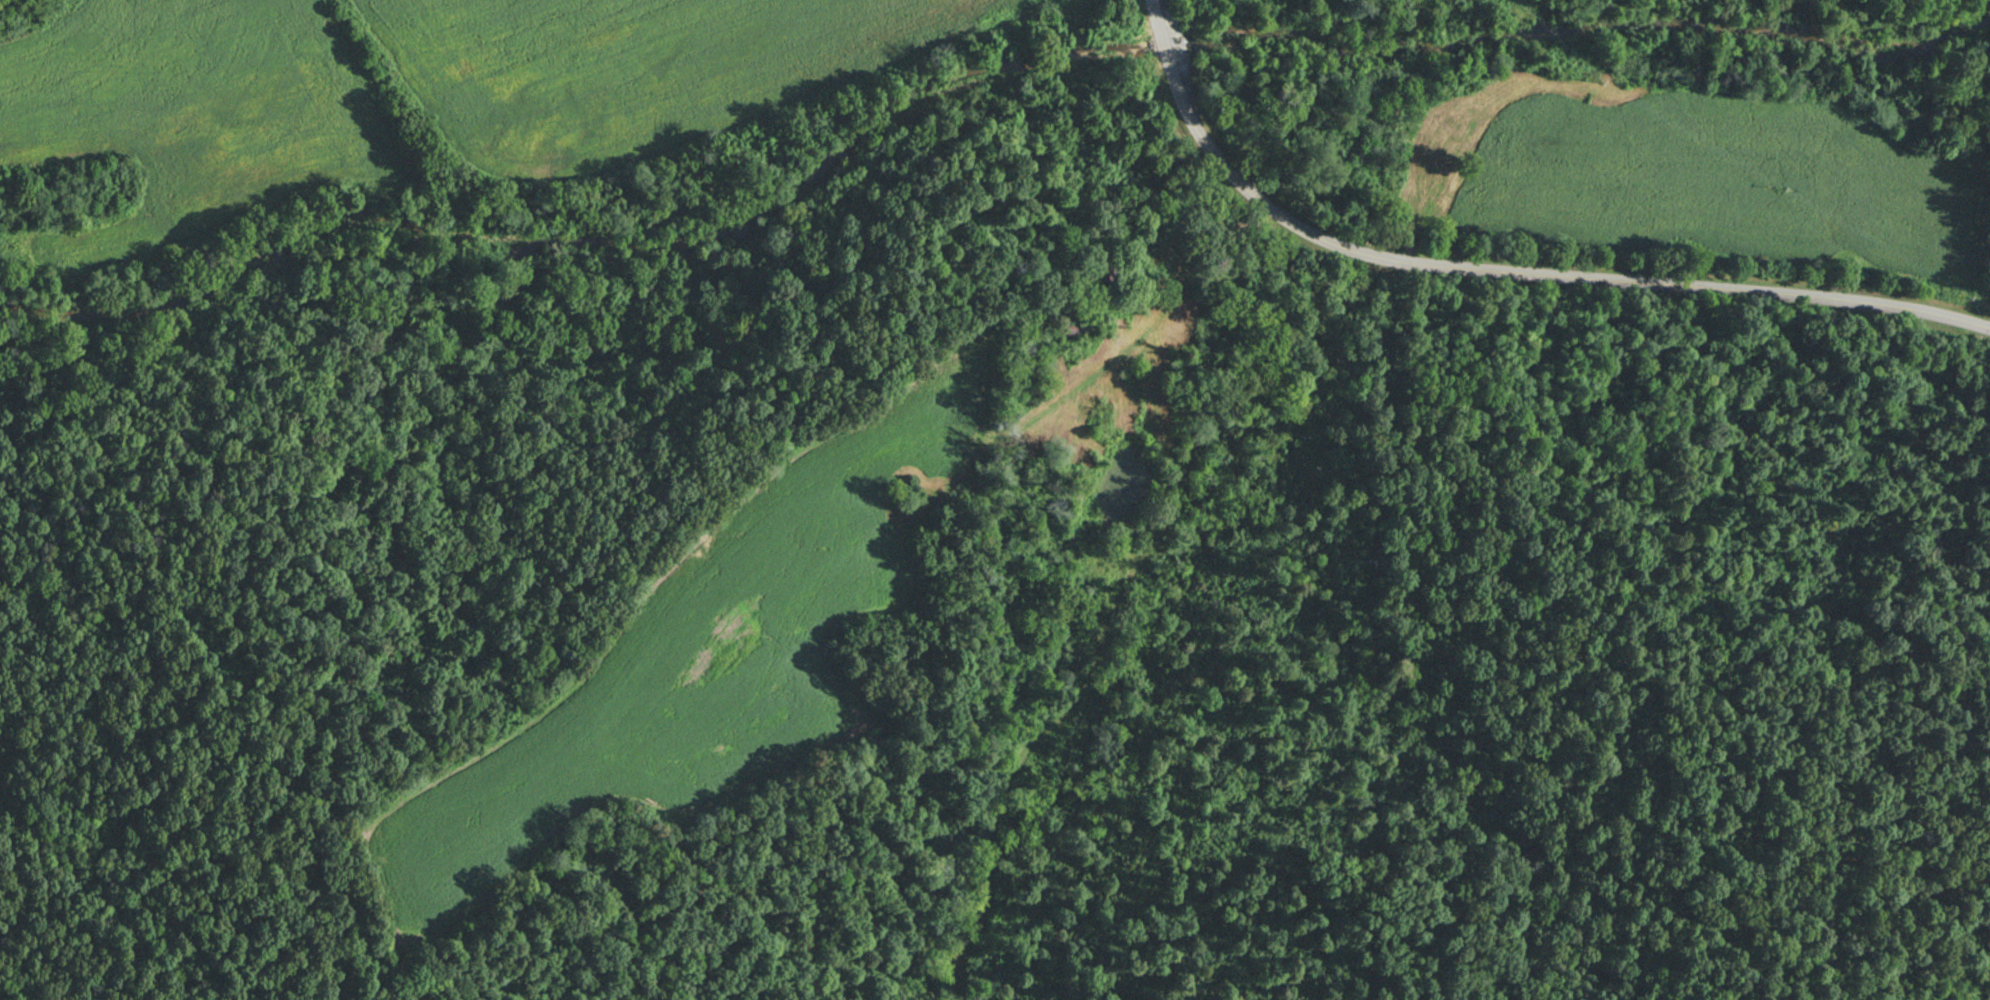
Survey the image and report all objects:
road: (1501, 272)

